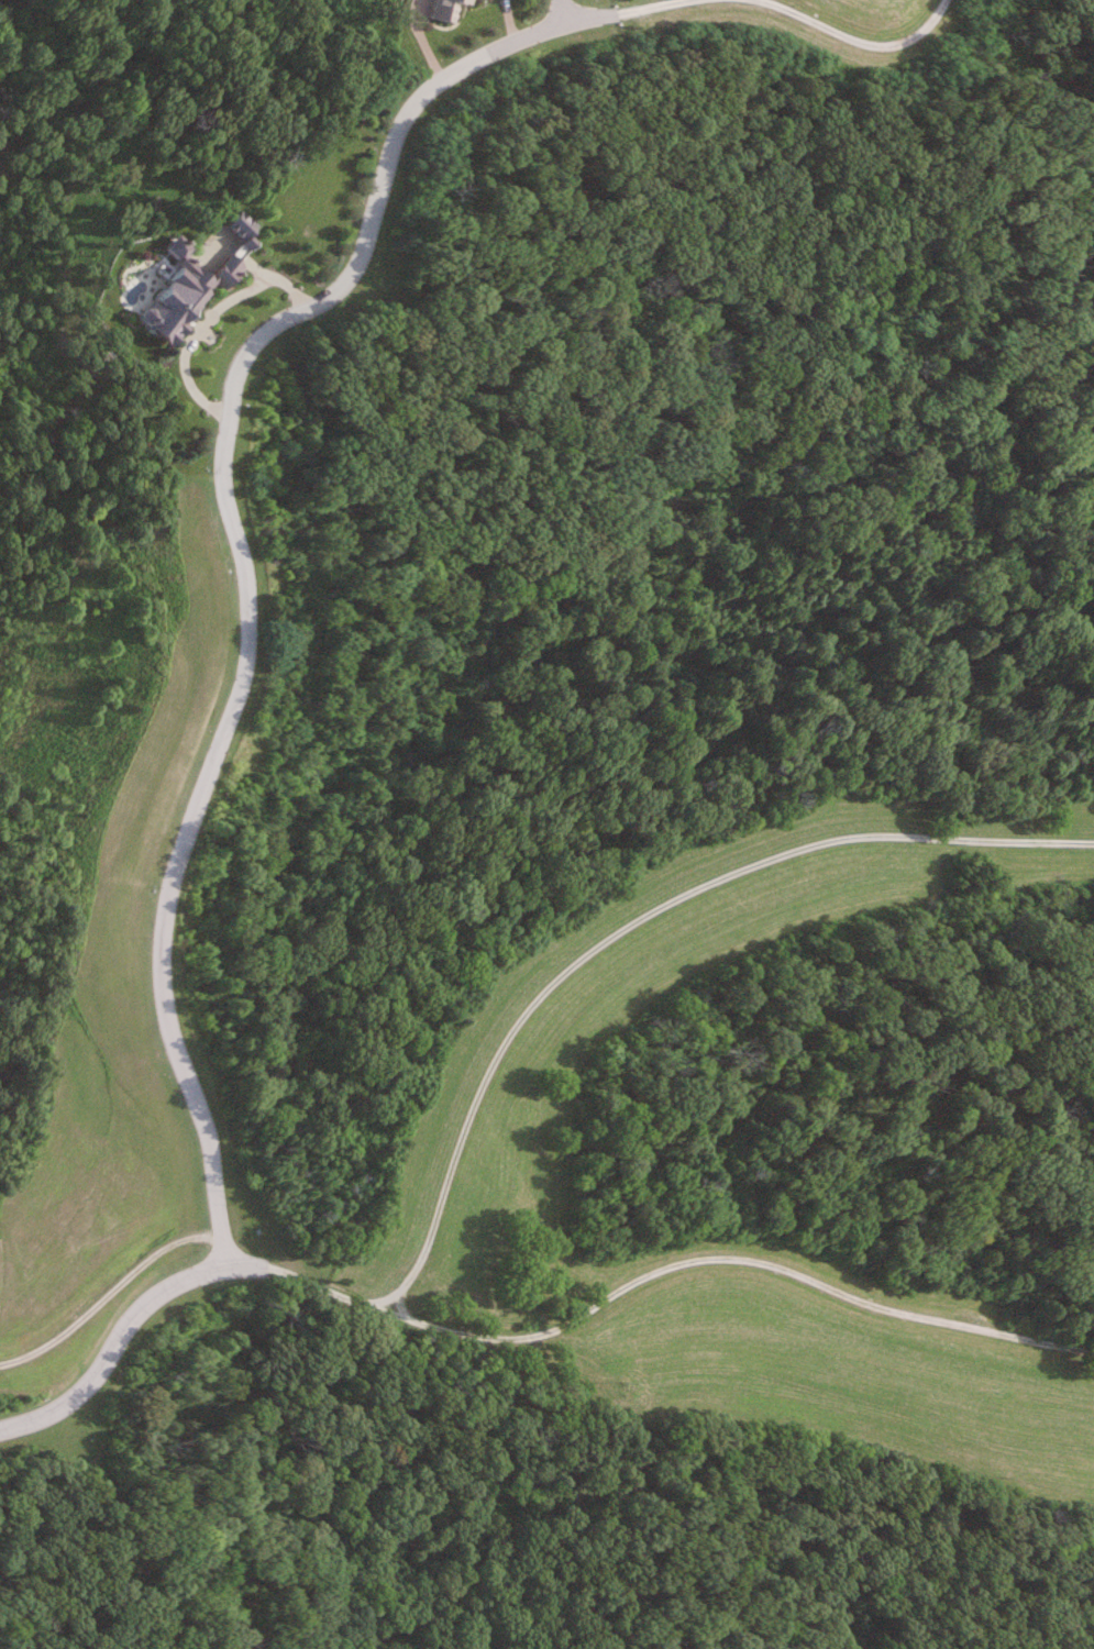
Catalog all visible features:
building: (468, 1)
road: (626, 7)
building: (444, 9)
road: (563, 13)
road: (863, 40)
building: (195, 286)
road: (210, 320)
road: (246, 563)
road: (661, 944)
road: (718, 1258)
road: (165, 1298)

